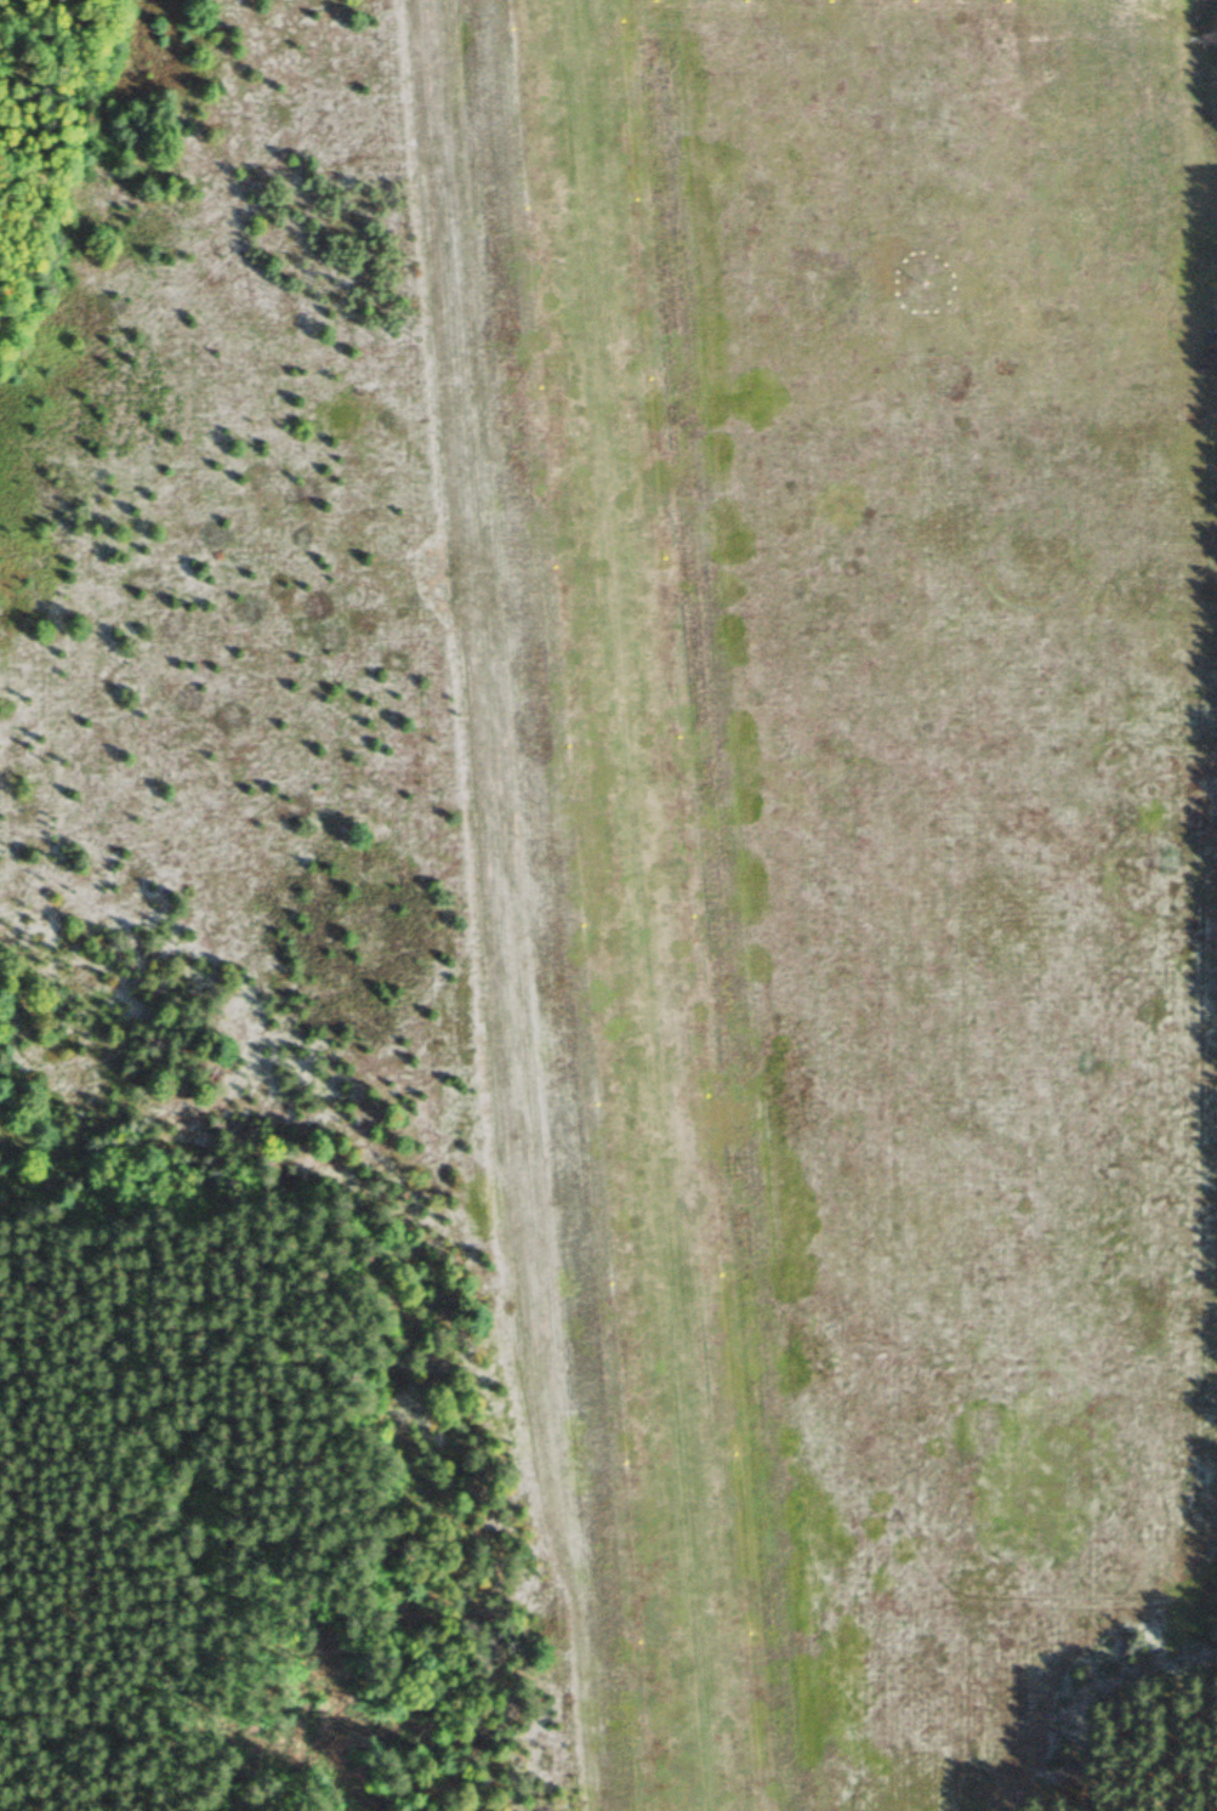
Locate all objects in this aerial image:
building: (1207, 41)
airport runway: (639, 906)

